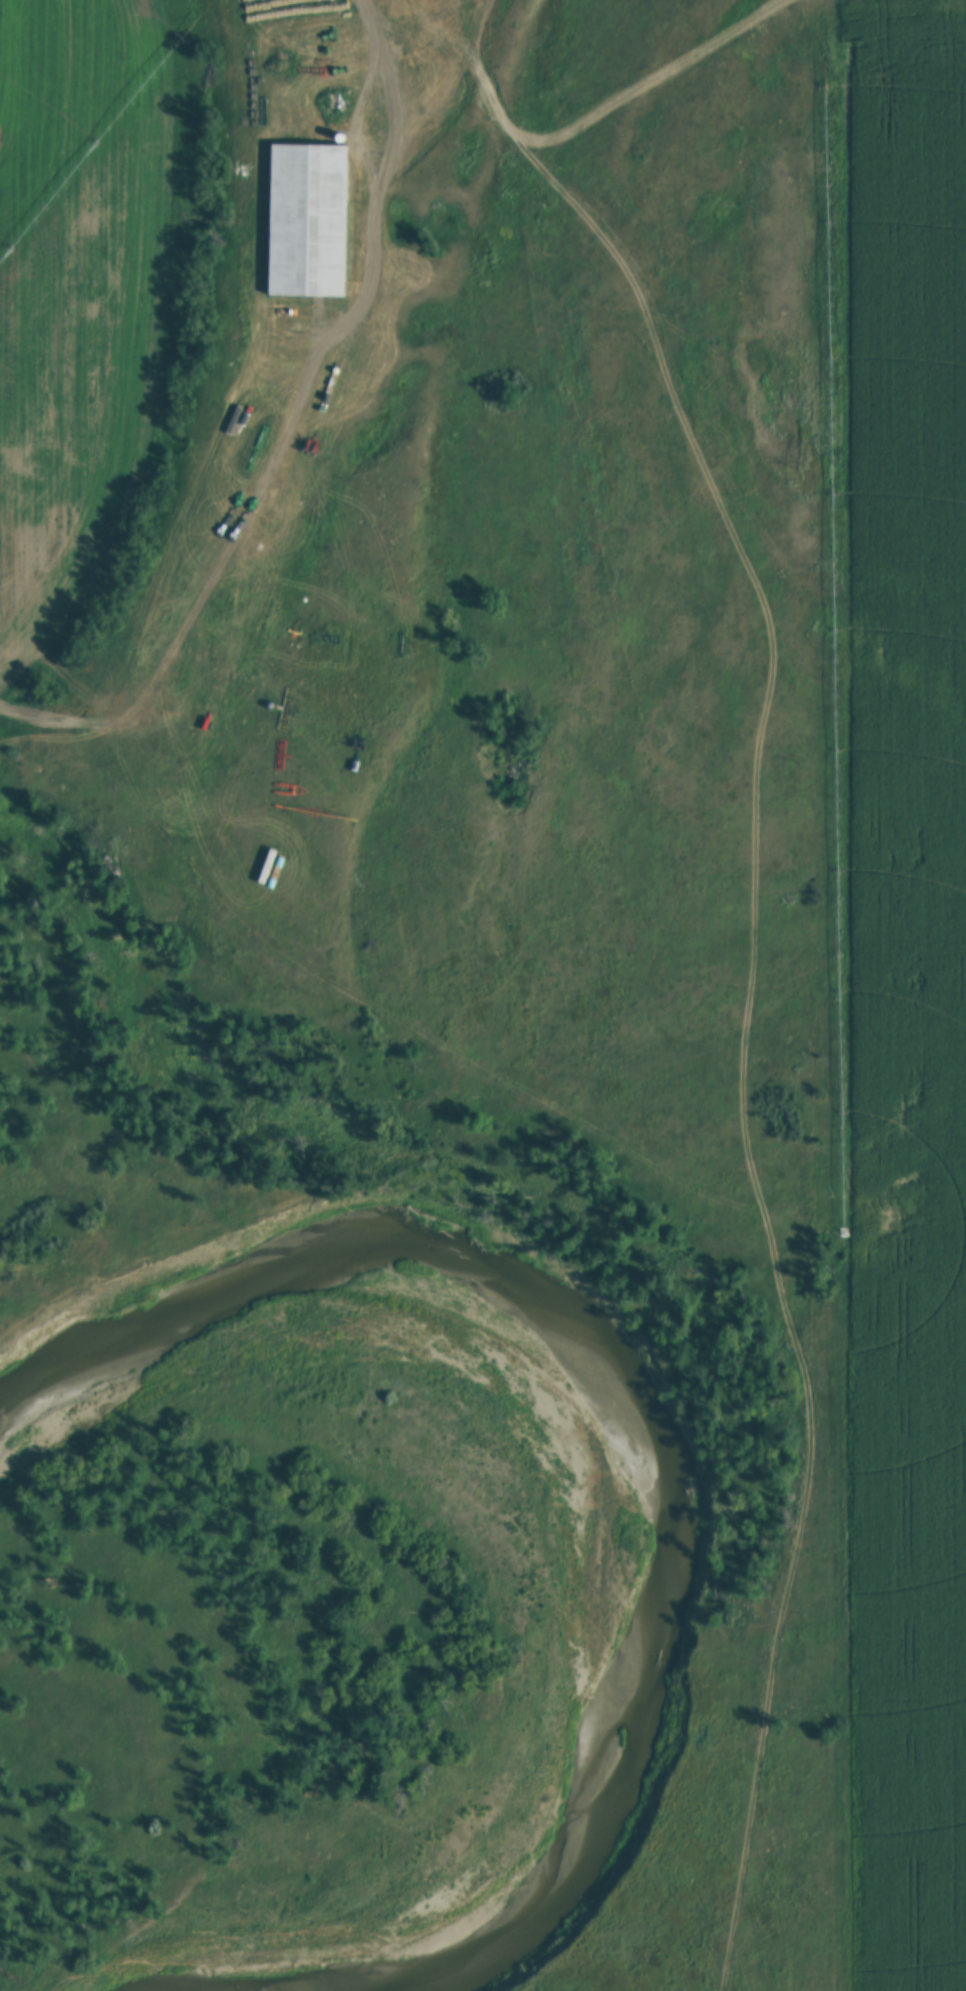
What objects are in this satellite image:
road: (639, 260)
road: (235, 404)

